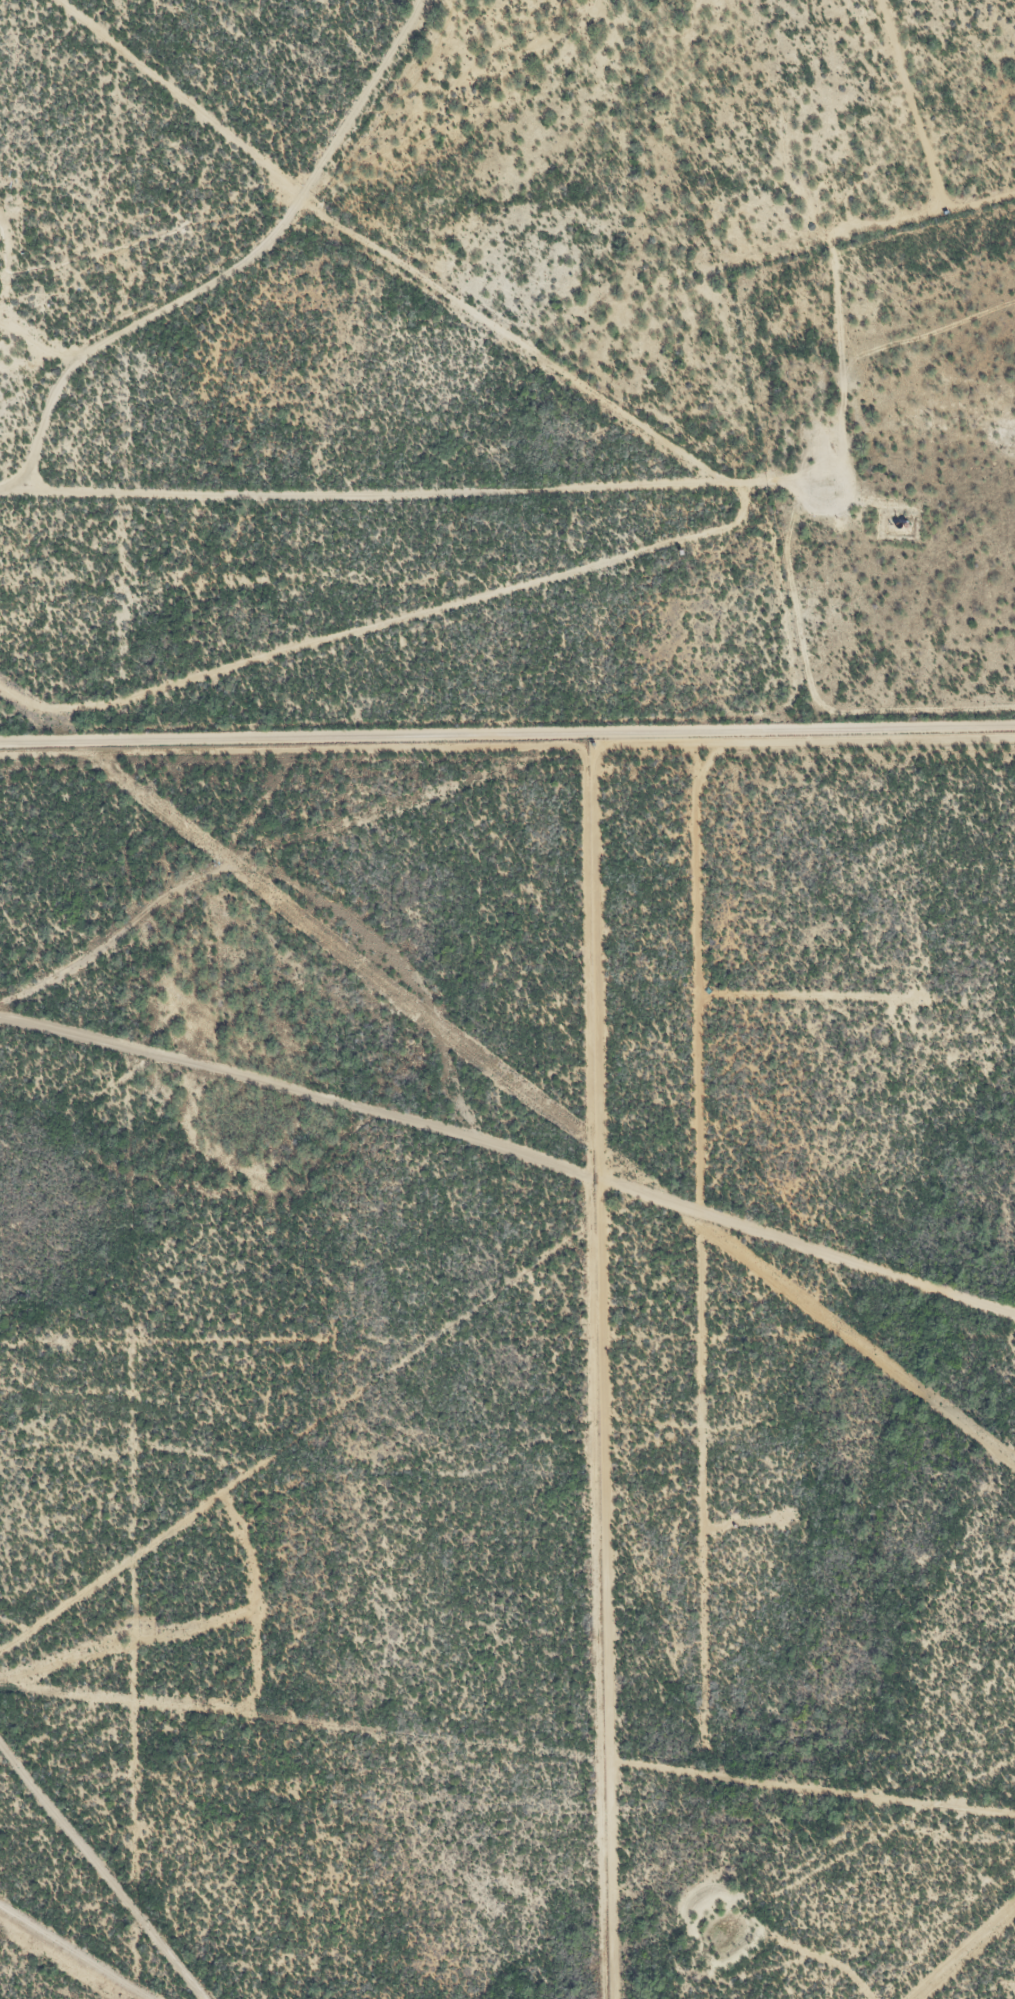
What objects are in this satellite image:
road: (258, 201)
road: (506, 1465)
road: (112, 1855)

